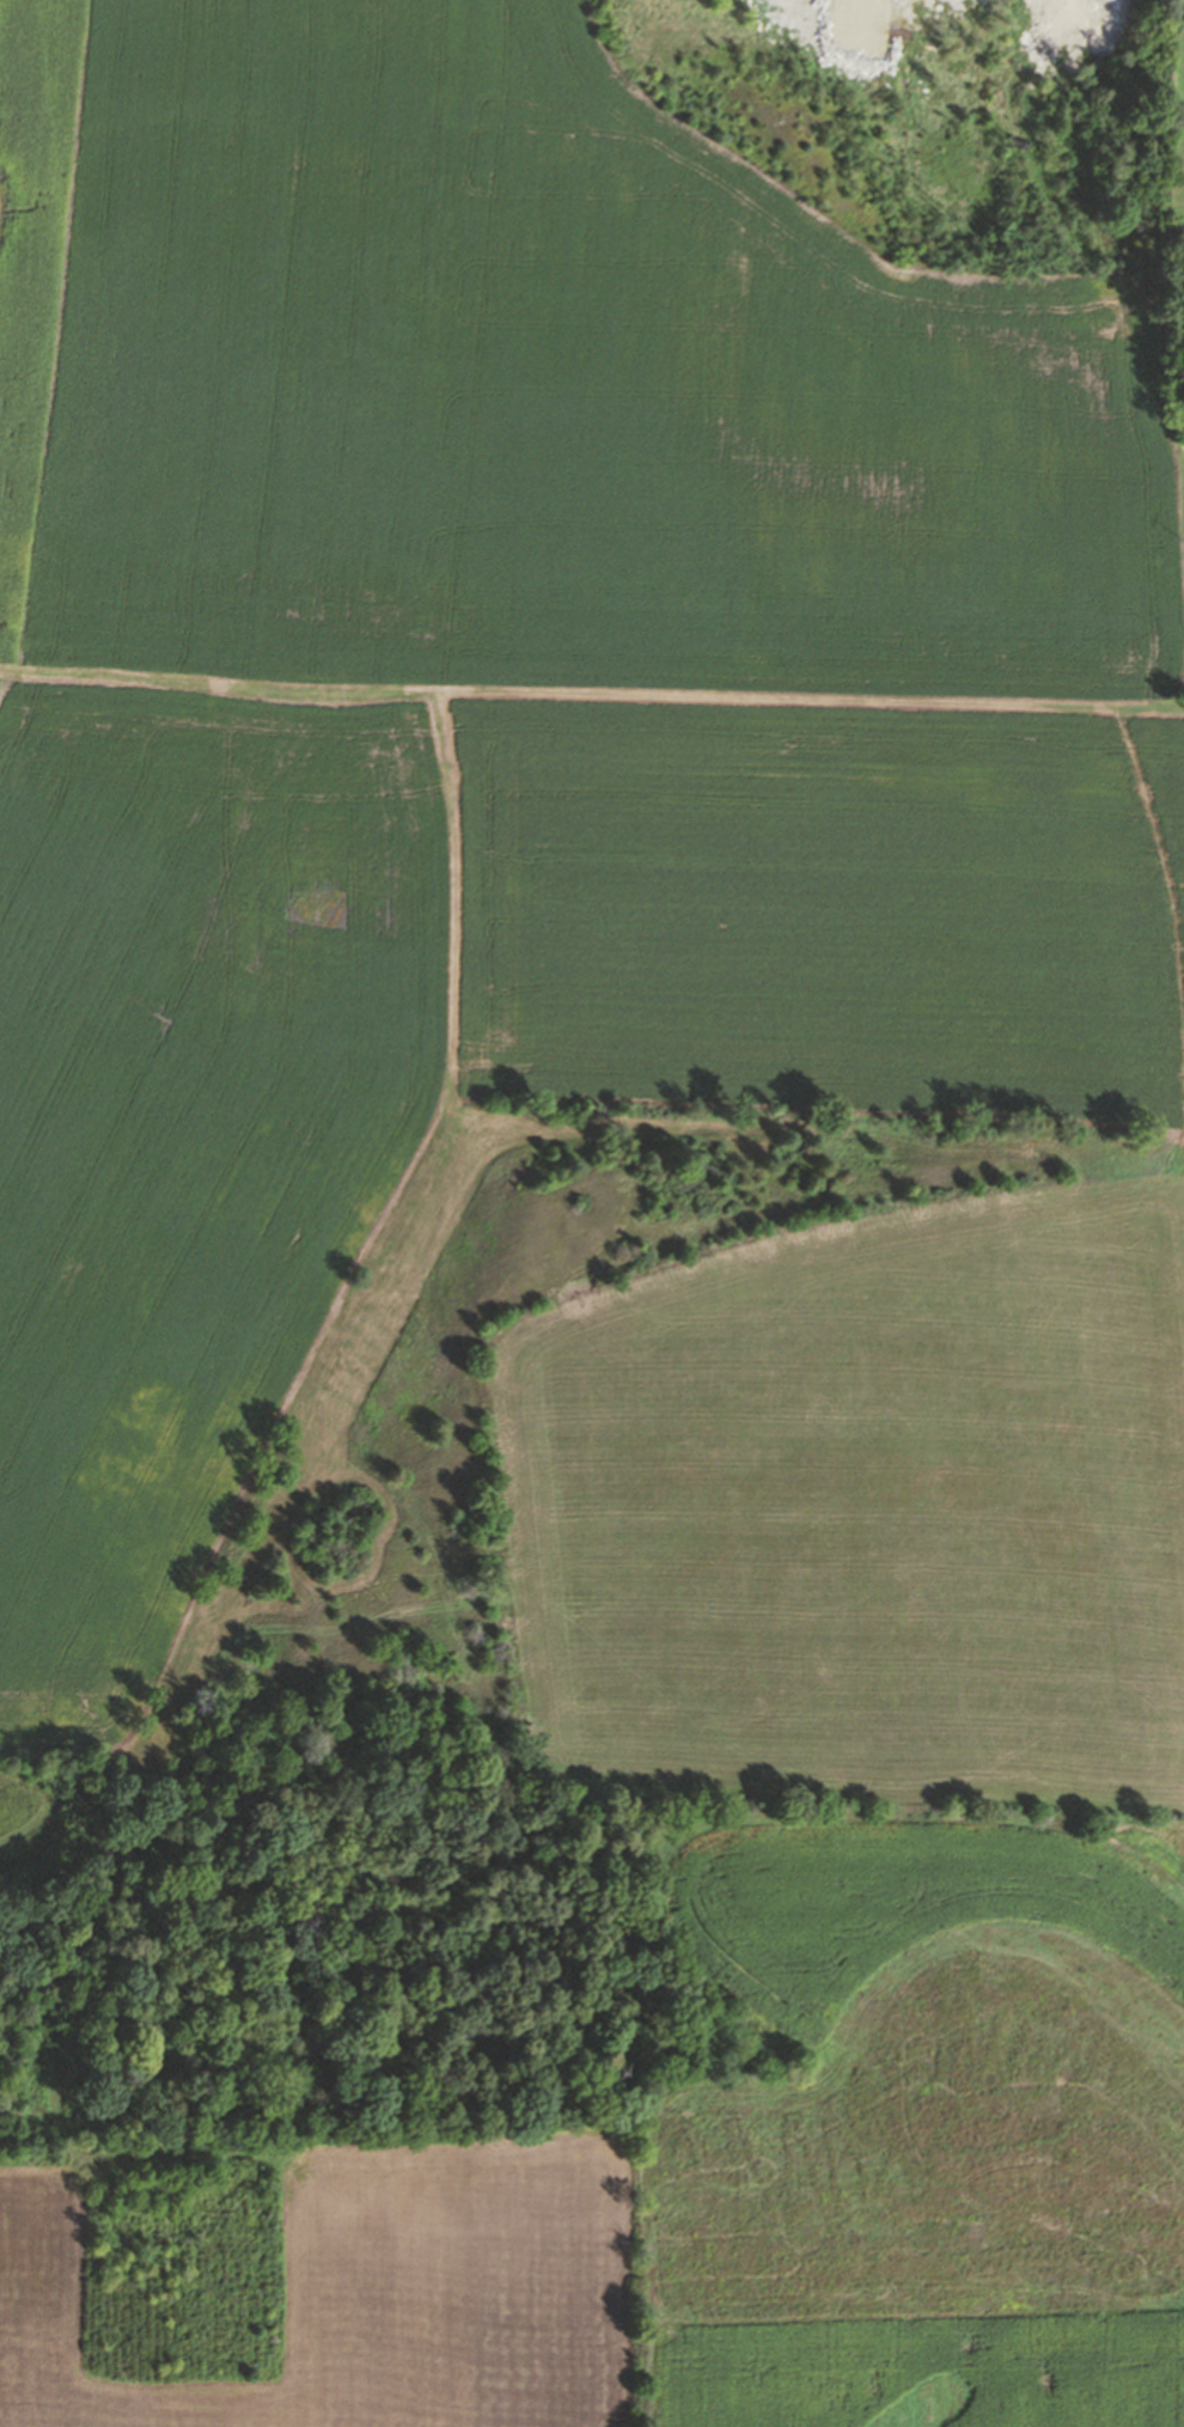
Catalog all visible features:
park: (1180, 386)
crop: (910, 945)

